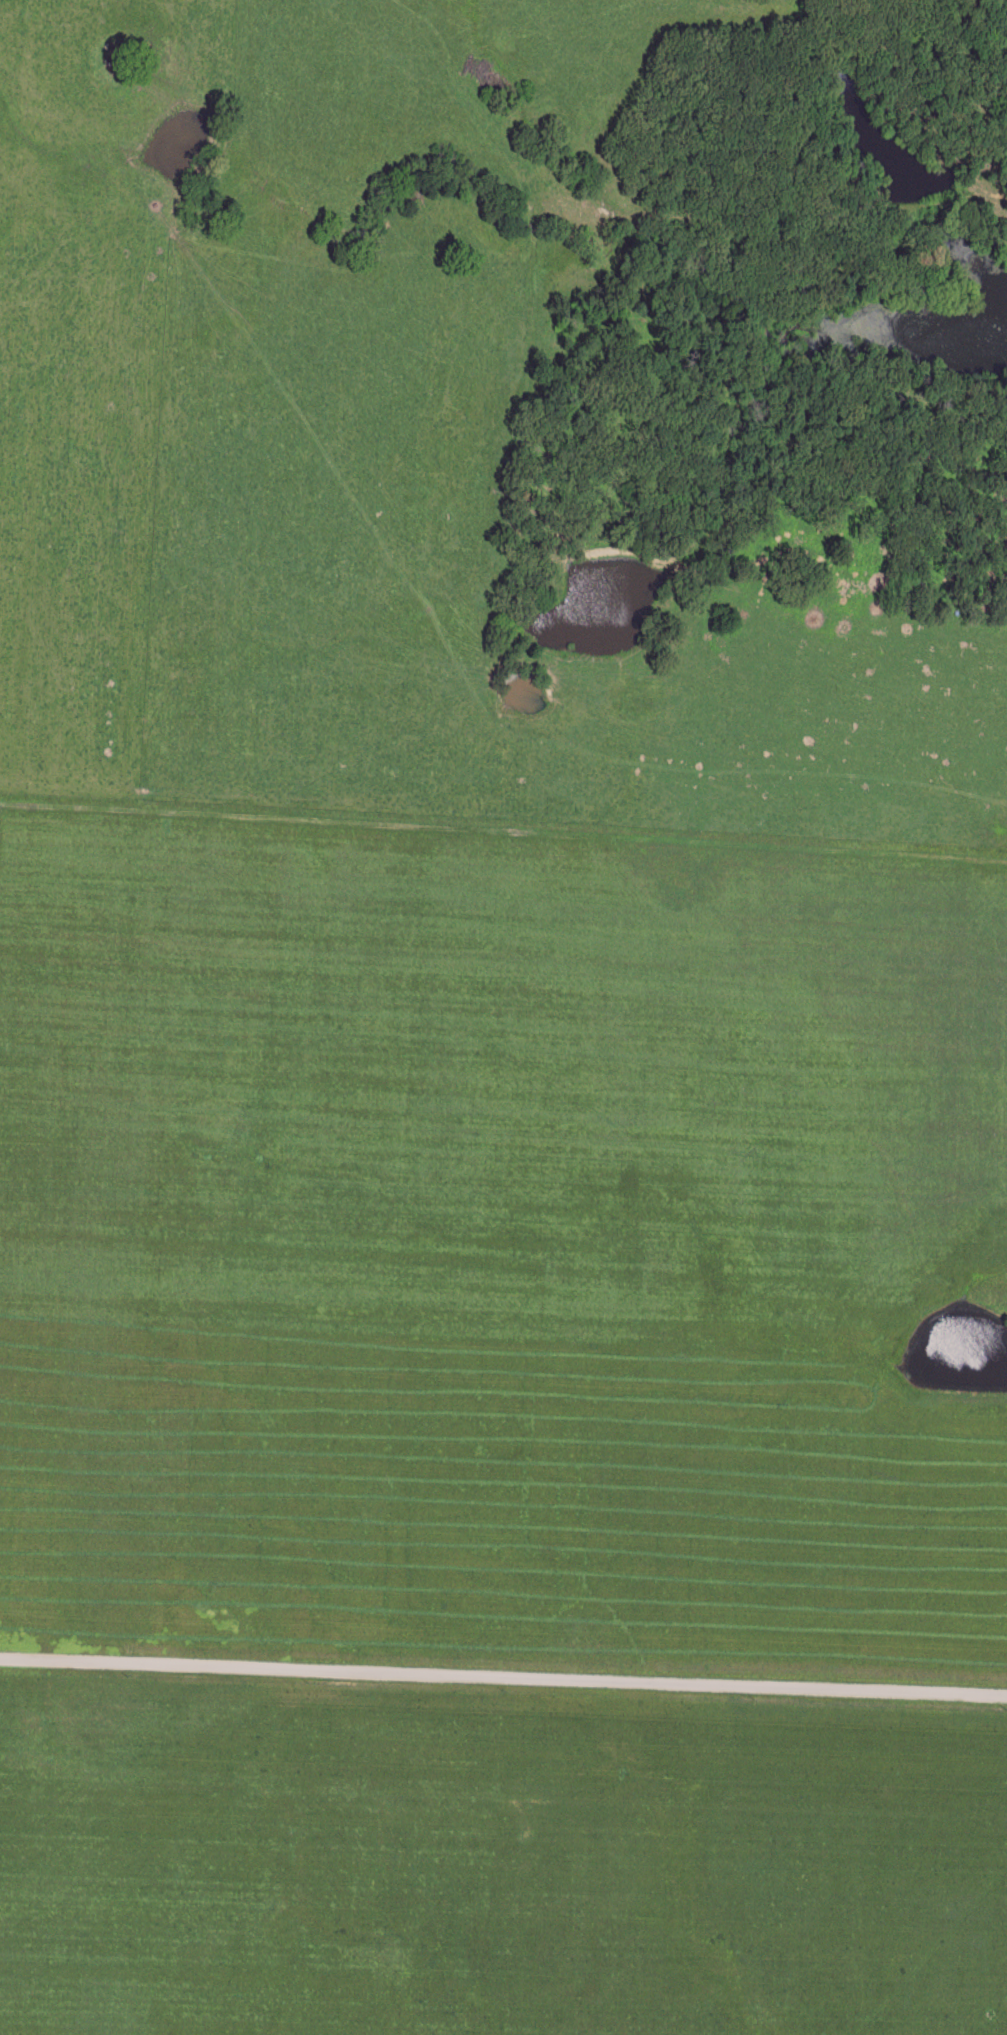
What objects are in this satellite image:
road: (503, 1679)

